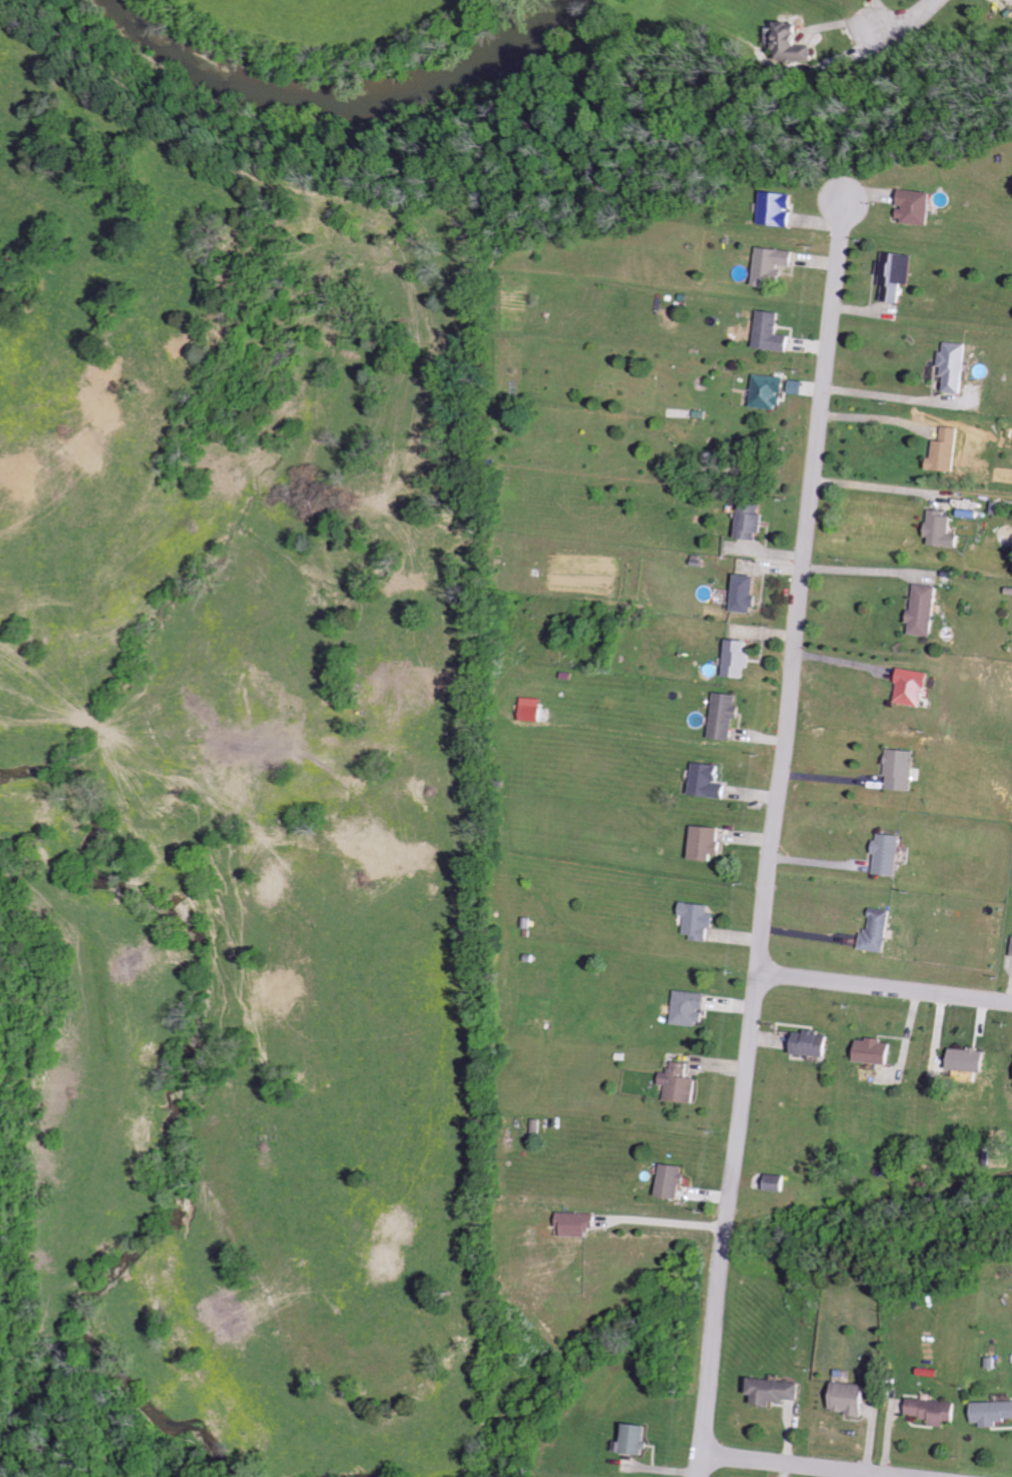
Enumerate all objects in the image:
road: (909, 20)
building: (918, 207)
building: (780, 209)
building: (775, 265)
building: (897, 275)
building: (773, 333)
building: (957, 367)
building: (770, 391)
road: (888, 399)
road: (871, 420)
building: (949, 451)
road: (869, 489)
building: (755, 521)
building: (944, 531)
road: (862, 572)
building: (749, 594)
building: (925, 610)
building: (742, 659)
road: (841, 665)
building: (913, 687)
building: (535, 713)
building: (728, 715)
building: (900, 769)
building: (710, 780)
road: (773, 841)
building: (709, 842)
building: (887, 854)
building: (700, 920)
building: (877, 929)
road: (884, 988)
building: (691, 1008)
building: (814, 1043)
building: (877, 1050)
building: (973, 1059)
building: (682, 1083)
building: (675, 1181)
building: (580, 1223)
road: (671, 1223)
building: (778, 1391)
building: (852, 1398)
building: (936, 1410)
building: (992, 1413)
building: (640, 1439)
road: (796, 1465)

